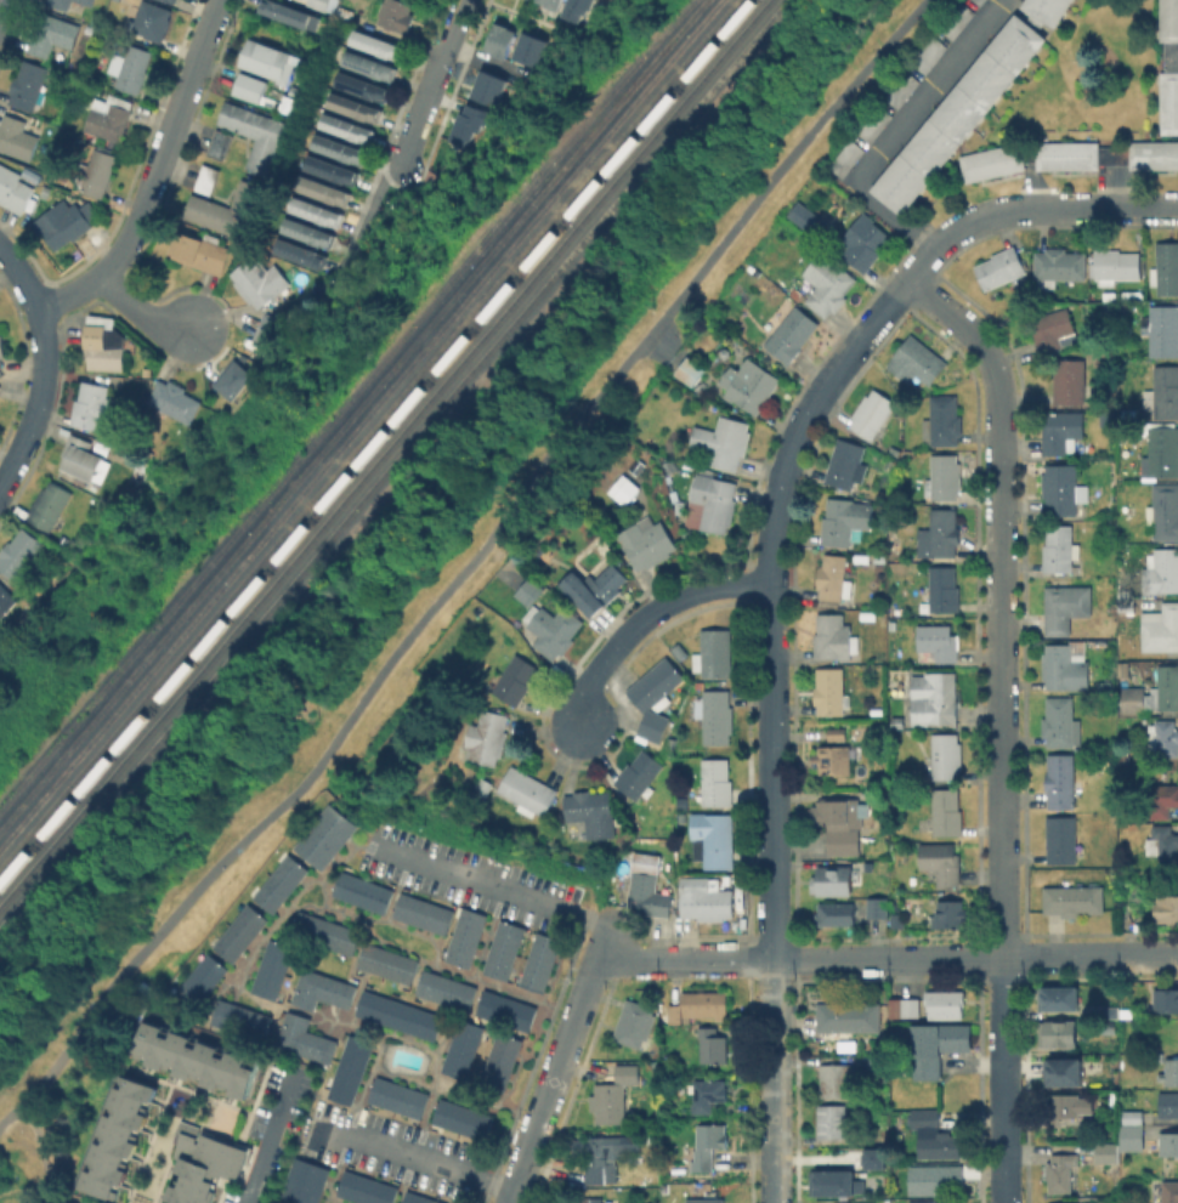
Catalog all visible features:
road: (0, 1)
building: (86, 1)
building: (171, 1)
building: (559, 1)
building: (976, 1)
building: (60, 4)
building: (323, 5)
building: (585, 7)
building: (1044, 8)
building: (290, 12)
building: (345, 13)
building: (397, 15)
building: (151, 19)
building: (1167, 19)
road: (458, 22)
building: (52, 34)
building: (505, 39)
building: (376, 42)
building: (538, 49)
building: (1169, 55)
building: (268, 59)
building: (368, 63)
building: (130, 67)
building: (27, 84)
building: (362, 84)
building: (249, 86)
building: (487, 87)
building: (1167, 101)
building: (291, 103)
building: (353, 106)
building: (957, 113)
building: (108, 117)
road: (418, 121)
building: (471, 124)
building: (345, 126)
road: (899, 130)
building: (251, 132)
building: (17, 137)
building: (216, 143)
building: (339, 148)
building: (1026, 153)
building: (1065, 154)
building: (1111, 154)
building: (1152, 154)
building: (844, 158)
building: (990, 160)
building: (330, 169)
building: (96, 172)
road: (154, 175)
building: (204, 178)
building: (324, 188)
building: (16, 189)
building: (225, 209)
building: (317, 210)
road: (1055, 210)
building: (809, 219)
building: (62, 223)
road: (370, 227)
building: (308, 232)
building: (862, 242)
building: (202, 251)
building: (301, 252)
road: (923, 260)
building: (1115, 265)
building: (1001, 267)
building: (1166, 267)
building: (1058, 268)
building: (260, 279)
building: (825, 284)
road: (141, 307)
building: (265, 328)
building: (1054, 329)
building: (1161, 330)
building: (789, 331)
building: (103, 342)
building: (1, 348)
building: (917, 361)
road: (43, 365)
building: (690, 369)
building: (238, 380)
building: (1071, 381)
building: (0, 385)
building: (749, 386)
building: (1163, 391)
building: (175, 399)
railway: (344, 399)
building: (703, 403)
building: (92, 407)
railway: (350, 412)
building: (872, 413)
building: (1105, 416)
building: (942, 420)
railway: (358, 421)
railway: (366, 430)
building: (1063, 431)
railway: (374, 439)
building: (723, 441)
railway: (383, 449)
building: (1161, 452)
building: (80, 456)
railway: (390, 458)
building: (141, 463)
building: (845, 463)
building: (891, 465)
building: (942, 477)
building: (1063, 488)
building: (624, 489)
building: (714, 500)
building: (49, 505)
building: (1163, 511)
building: (844, 520)
building: (941, 532)
building: (646, 539)
building: (1059, 547)
building: (19, 555)
road: (478, 555)
building: (1161, 571)
building: (834, 577)
building: (595, 588)
building: (529, 590)
building: (941, 590)
building: (6, 600)
building: (1123, 603)
building: (1065, 606)
building: (868, 614)
road: (645, 617)
park: (426, 618)
building: (1161, 626)
building: (553, 628)
building: (834, 637)
building: (938, 642)
building: (714, 652)
building: (1065, 666)
building: (514, 679)
building: (829, 690)
building: (1166, 690)
building: (656, 696)
building: (1133, 698)
building: (936, 699)
building: (715, 715)
road: (771, 721)
road: (1001, 722)
building: (1060, 722)
building: (837, 733)
building: (487, 736)
building: (1165, 737)
building: (944, 756)
building: (833, 759)
building: (639, 773)
building: (1060, 779)
building: (717, 781)
building: (528, 789)
building: (1162, 799)
building: (591, 811)
building: (947, 811)
building: (1112, 819)
building: (840, 821)
building: (322, 834)
building: (713, 838)
building: (1063, 839)
building: (1162, 841)
building: (941, 861)
building: (646, 862)
building: (832, 880)
building: (277, 881)
road: (493, 886)
building: (359, 890)
building: (649, 893)
building: (704, 898)
building: (1074, 898)
building: (878, 906)
building: (1166, 907)
building: (420, 910)
building: (837, 912)
building: (950, 913)
building: (897, 919)
street lamp: (149, 924)
building: (322, 930)
building: (238, 931)
building: (463, 935)
road: (602, 938)
building: (500, 947)
road: (974, 957)
road: (684, 959)
building: (537, 960)
building: (385, 961)
building: (270, 967)
building: (202, 975)
building: (322, 988)
building: (443, 988)
building: (1063, 999)
building: (1166, 999)
building: (700, 1004)
building: (929, 1004)
building: (503, 1008)
building: (1110, 1012)
building: (400, 1014)
building: (849, 1016)
building: (238, 1018)
building: (636, 1022)
building: (1058, 1032)
building: (306, 1038)
building: (712, 1044)
building: (938, 1045)
building: (463, 1048)
building: (1152, 1054)
building: (198, 1056)
building: (502, 1060)
building: (879, 1062)
building: (351, 1068)
building: (1168, 1069)
building: (1066, 1074)
road: (551, 1078)
building: (838, 1079)
building: (708, 1093)
building: (615, 1094)
building: (1115, 1094)
building: (400, 1096)
building: (1168, 1102)
building: (1064, 1105)
road: (12, 1116)
building: (464, 1117)
building: (1135, 1117)
building: (832, 1119)
building: (119, 1133)
building: (935, 1135)
building: (1132, 1136)
road: (270, 1137)
building: (1169, 1142)
building: (604, 1145)
building: (704, 1145)
building: (1106, 1151)
road: (40, 1154)
building: (874, 1159)
building: (204, 1161)
road: (436, 1161)
building: (1060, 1170)
building: (605, 1171)
building: (928, 1179)
building: (834, 1180)
building: (305, 1181)
building: (367, 1187)
building: (1166, 1191)
building: (419, 1198)
building: (593, 1199)
building: (702, 1201)
building: (721, 1202)
building: (843, 1202)
building: (854, 1202)
building: (930, 1202)

